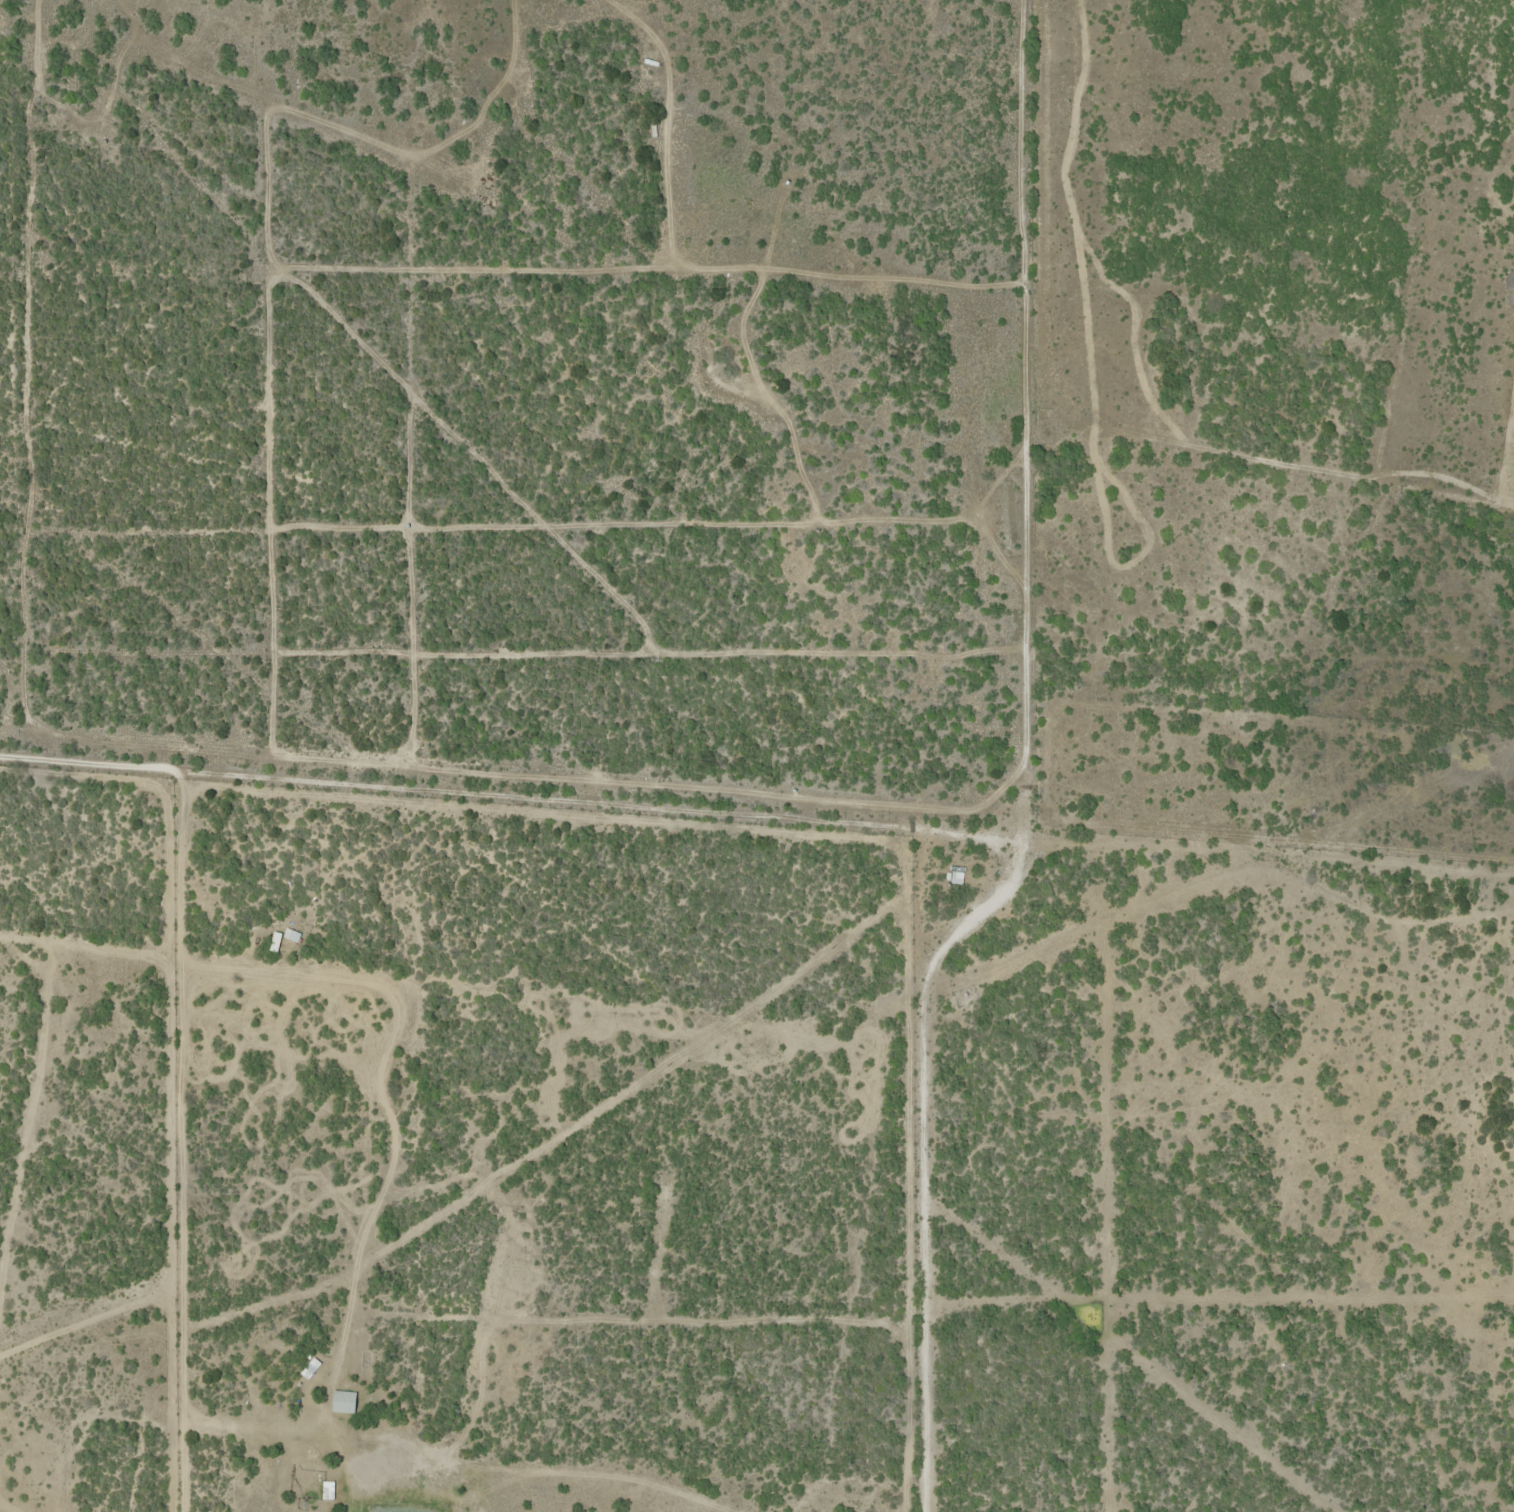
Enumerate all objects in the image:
building: (955, 875)
building: (290, 935)

